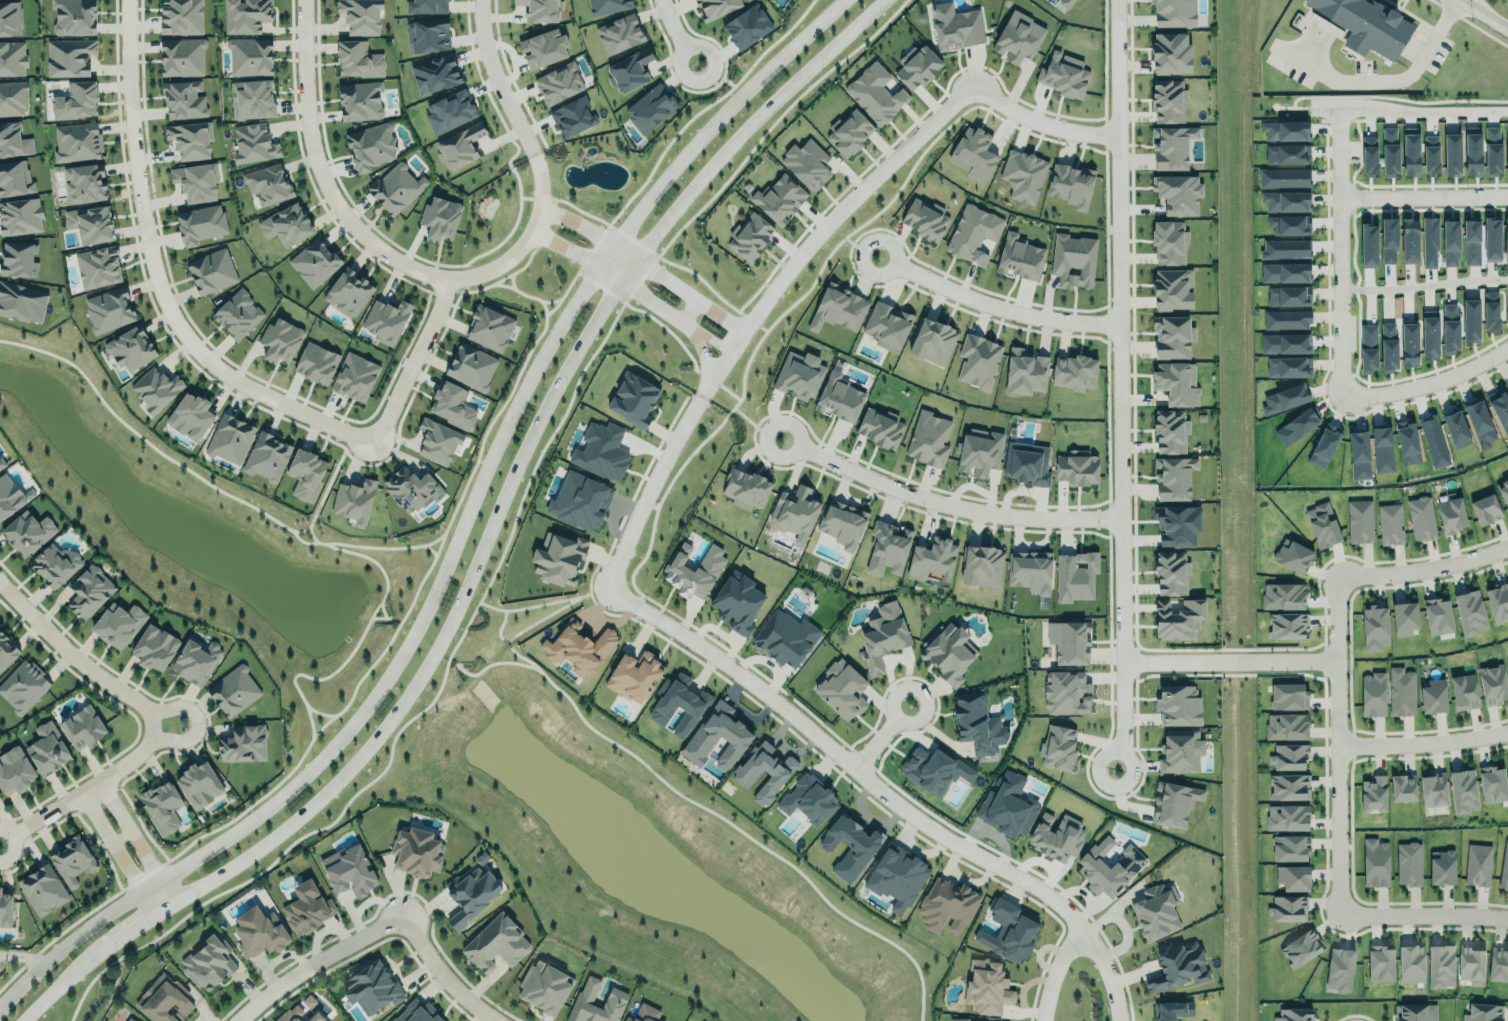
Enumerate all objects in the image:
building: (606, 4)
building: (1063, 5)
building: (425, 6)
building: (1173, 13)
road: (1484, 14)
building: (246, 15)
building: (179, 16)
building: (360, 16)
building: (10, 17)
building: (73, 17)
building: (1366, 25)
building: (747, 26)
building: (956, 27)
road: (677, 28)
building: (619, 34)
building: (428, 35)
building: (1017, 35)
building: (543, 45)
building: (1171, 49)
building: (250, 56)
building: (69, 57)
building: (181, 57)
building: (12, 58)
building: (358, 58)
building: (918, 67)
building: (629, 70)
building: (434, 71)
building: (1063, 75)
road: (502, 79)
building: (558, 81)
road: (1382, 84)
building: (875, 94)
building: (12, 97)
building: (183, 97)
building: (251, 98)
building: (76, 101)
building: (360, 101)
building: (1168, 101)
building: (653, 103)
road: (1418, 107)
building: (449, 111)
building: (573, 117)
road: (1042, 117)
road: (713, 125)
building: (1286, 130)
road: (744, 132)
building: (849, 133)
building: (13, 140)
building: (190, 140)
building: (78, 141)
building: (252, 141)
building: (369, 146)
building: (459, 146)
building: (1172, 147)
building: (1287, 151)
building: (972, 153)
building: (1411, 155)
road: (1337, 158)
road: (537, 159)
building: (808, 162)
building: (1021, 173)
building: (1285, 177)
building: (15, 179)
building: (195, 180)
building: (84, 181)
building: (1070, 183)
building: (268, 184)
road: (541, 185)
building: (395, 188)
building: (1178, 194)
building: (779, 197)
building: (1286, 201)
road: (841, 208)
building: (19, 214)
building: (439, 215)
building: (924, 219)
building: (199, 221)
building: (90, 222)
building: (286, 224)
road: (359, 224)
building: (973, 234)
building: (1506, 234)
building: (750, 237)
building: (1492, 239)
building: (1389, 240)
building: (1409, 241)
building: (1169, 242)
building: (1430, 242)
building: (1471, 242)
building: (1450, 243)
road: (568, 245)
building: (1286, 248)
building: (16, 255)
building: (1020, 257)
building: (1073, 260)
building: (314, 262)
road: (643, 265)
building: (98, 266)
building: (211, 271)
building: (1286, 272)
road: (609, 273)
road: (160, 279)
road: (1423, 286)
building: (1172, 289)
building: (350, 291)
building: (1284, 292)
road: (1338, 297)
building: (20, 302)
road: (652, 302)
road: (996, 304)
building: (108, 306)
building: (838, 308)
building: (1491, 310)
road: (688, 312)
building: (237, 314)
building: (1285, 316)
building: (385, 320)
building: (1470, 320)
building: (886, 324)
building: (489, 326)
building: (1450, 329)
building: (1429, 336)
building: (933, 337)
building: (1172, 337)
road: (704, 338)
building: (280, 340)
building: (1286, 343)
building: (1409, 344)
building: (1388, 345)
road: (701, 348)
building: (1368, 348)
building: (130, 349)
building: (316, 360)
building: (978, 361)
road: (415, 362)
building: (471, 367)
building: (1289, 367)
building: (1024, 370)
building: (1074, 372)
road: (713, 374)
building: (799, 375)
building: (355, 377)
building: (1175, 378)
road: (1122, 379)
building: (156, 385)
building: (1507, 385)
building: (1284, 395)
building: (840, 396)
building: (632, 397)
building: (453, 405)
building: (1500, 408)
building: (192, 413)
building: (1480, 423)
building: (1170, 426)
building: (880, 427)
building: (1456, 428)
building: (230, 438)
building: (928, 439)
building: (1433, 441)
building: (438, 442)
building: (1407, 442)
building: (1382, 449)
building: (601, 451)
building: (979, 452)
building: (266, 454)
building: (1359, 455)
building: (1027, 461)
building: (2, 462)
building: (1077, 468)
building: (1173, 473)
building: (306, 474)
road: (649, 485)
building: (1503, 488)
building: (411, 489)
building: (745, 489)
building: (9, 495)
building: (353, 496)
road: (948, 496)
building: (579, 499)
building: (1486, 508)
building: (795, 509)
building: (1451, 513)
building: (1421, 518)
building: (1360, 521)
building: (842, 523)
building: (1390, 524)
building: (1177, 525)
building: (1323, 525)
building: (27, 530)
building: (887, 548)
building: (1293, 555)
building: (559, 558)
building: (932, 558)
building: (53, 564)
road: (1421, 565)
building: (982, 566)
building: (708, 567)
building: (1029, 570)
building: (1171, 573)
building: (1075, 576)
building: (89, 591)
building: (1283, 594)
building: (737, 599)
building: (1498, 602)
road: (481, 607)
building: (1470, 612)
building: (1438, 616)
building: (1404, 618)
building: (1178, 619)
building: (118, 623)
building: (1288, 624)
building: (1374, 627)
building: (784, 634)
road: (445, 635)
building: (883, 636)
building: (1070, 642)
building: (154, 644)
building: (7, 648)
building: (578, 648)
building: (948, 652)
road: (1227, 652)
road: (81, 659)
building: (195, 661)
building: (1507, 666)
building: (634, 676)
building: (1493, 684)
building: (23, 685)
building: (841, 690)
building: (1400, 690)
building: (233, 691)
building: (1465, 691)
building: (1066, 692)
building: (1372, 694)
building: (1288, 696)
building: (1433, 696)
road: (376, 697)
building: (678, 704)
building: (1178, 705)
building: (976, 721)
building: (81, 724)
building: (1284, 725)
road: (881, 735)
building: (717, 737)
road: (1420, 738)
road: (1332, 739)
building: (243, 743)
building: (48, 748)
building: (1058, 748)
building: (1181, 751)
building: (1289, 756)
building: (1507, 764)
building: (766, 767)
building: (933, 768)
building: (14, 771)
road: (656, 783)
building: (1493, 783)
road: (89, 785)
building: (199, 785)
building: (1291, 786)
building: (1403, 787)
road: (885, 789)
building: (1434, 789)
building: (1464, 790)
building: (1373, 793)
building: (808, 800)
building: (1174, 804)
building: (163, 806)
building: (1008, 806)
building: (1287, 817)
building: (1056, 836)
road: (136, 839)
building: (850, 846)
building: (1290, 848)
road: (118, 851)
building: (417, 852)
building: (72, 859)
building: (1375, 863)
building: (1408, 863)
building: (1109, 864)
building: (1478, 864)
building: (1442, 867)
building: (1504, 868)
building: (349, 870)
building: (897, 876)
building: (1293, 877)
building: (43, 888)
building: (471, 894)
building: (305, 905)
building: (5, 906)
building: (946, 906)
building: (1288, 908)
road: (1420, 909)
building: (1156, 911)
road: (133, 923)
building: (1008, 927)
building: (259, 931)
building: (497, 943)
building: (1300, 948)
road: (313, 959)
building: (1380, 961)
building: (1175, 962)
building: (208, 963)
building: (1411, 963)
building: (1472, 963)
building: (1498, 965)
building: (1440, 966)
building: (1340, 969)
road: (1054, 971)
road: (440, 973)
road: (60, 980)
building: (545, 987)
building: (987, 987)
building: (371, 988)
building: (616, 998)
building: (164, 1000)
building: (1173, 1010)
building: (1413, 1012)
building: (1483, 1012)
building: (416, 1013)
building: (289, 1014)
building: (645, 1014)
building: (1295, 1014)
building: (316, 1017)
building: (129, 1019)
building: (959, 1019)

